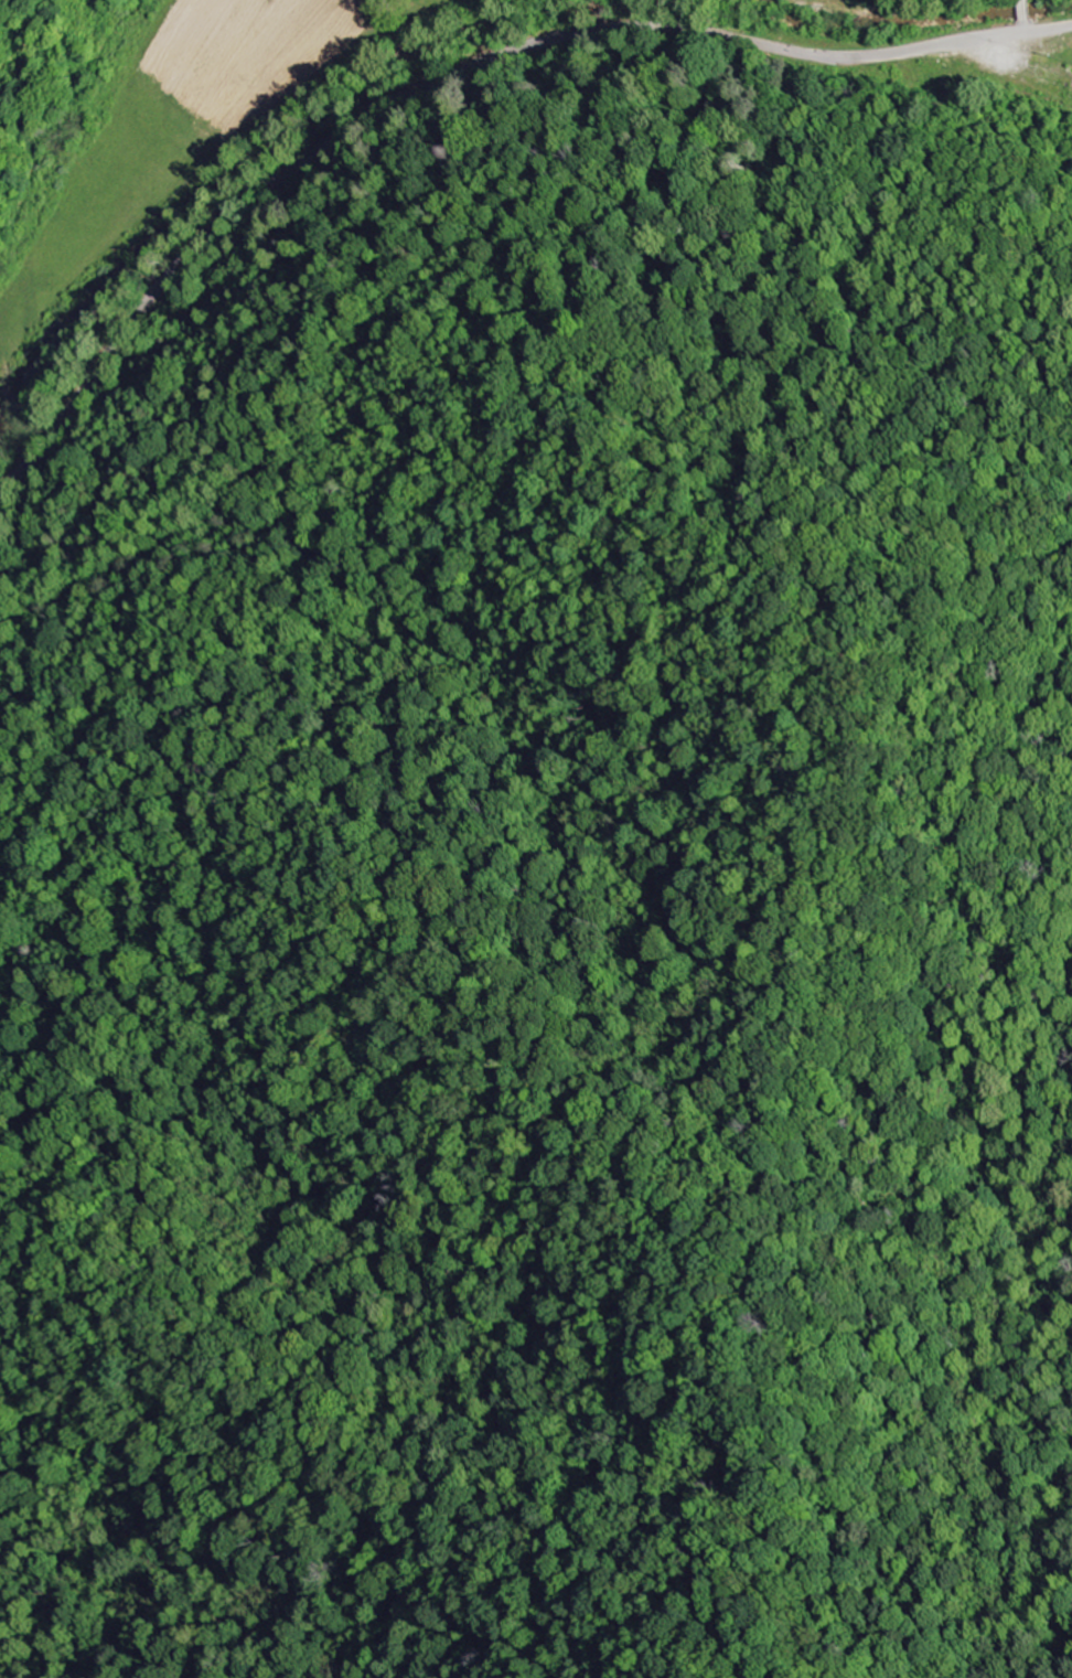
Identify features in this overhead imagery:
road: (1022, 14)
road: (455, 73)
road: (228, 548)

